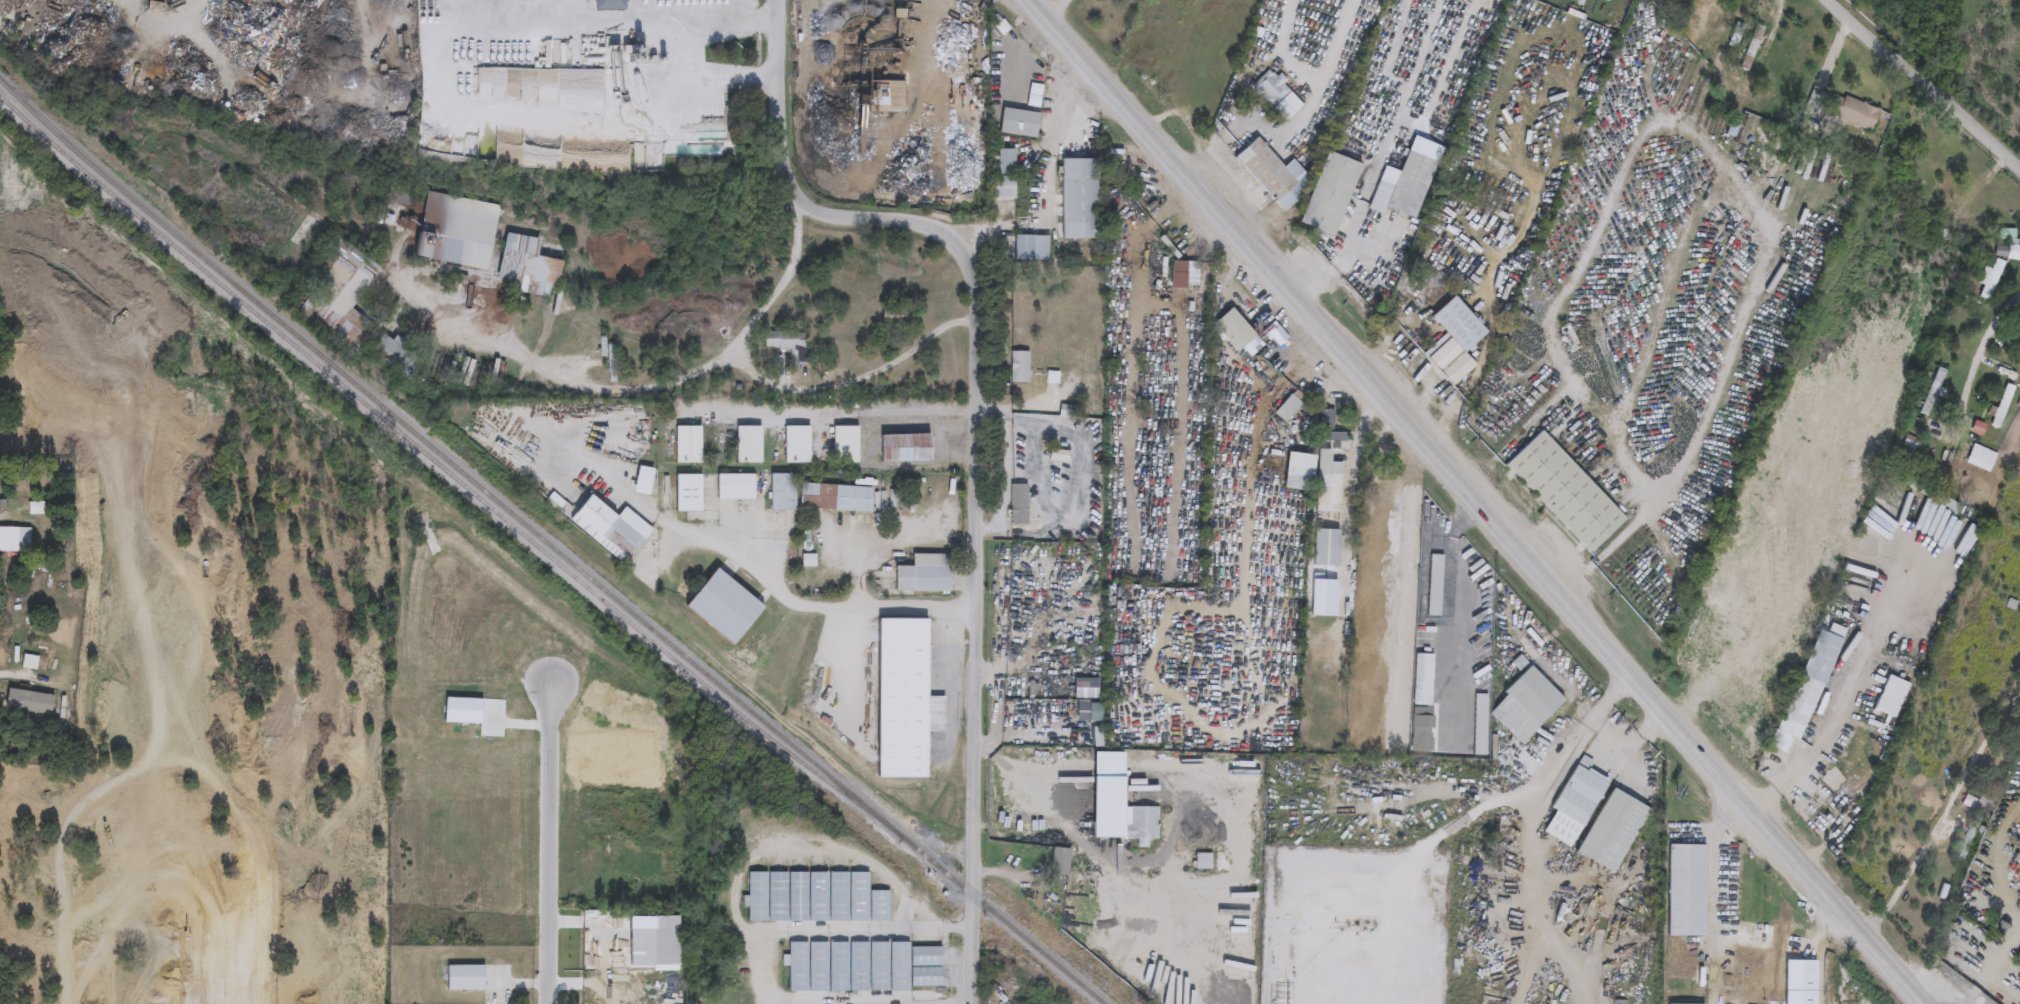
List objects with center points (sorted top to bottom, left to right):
road: (296, 1)
building: (608, 5)
road: (1055, 8)
road: (191, 38)
building: (1754, 41)
road: (1332, 44)
road: (1283, 49)
road: (690, 50)
road: (1830, 62)
road: (1923, 79)
road: (450, 85)
building: (998, 88)
building: (1275, 96)
building: (894, 98)
building: (1853, 113)
road: (1257, 123)
building: (1018, 124)
building: (1006, 161)
road: (1618, 171)
building: (1273, 175)
road: (1052, 180)
building: (1410, 185)
building: (1002, 188)
building: (1329, 194)
building: (1078, 199)
building: (2017, 220)
building: (449, 230)
building: (1031, 248)
building: (525, 267)
building: (1992, 279)
building: (338, 303)
building: (1233, 330)
building: (1452, 334)
building: (789, 345)
building: (388, 347)
building: (612, 359)
road: (1979, 364)
building: (1019, 368)
road: (557, 376)
road: (772, 382)
building: (2002, 406)
road: (867, 407)
building: (1287, 408)
building: (1068, 412)
building: (1329, 429)
road: (976, 435)
road: (1516, 436)
building: (686, 445)
building: (747, 445)
building: (795, 445)
building: (844, 445)
building: (904, 448)
railway: (424, 453)
building: (1298, 470)
building: (642, 480)
building: (1327, 482)
building: (734, 487)
building: (781, 491)
building: (1564, 491)
building: (687, 493)
building: (834, 497)
road: (1479, 500)
building: (1018, 505)
road: (5, 517)
building: (609, 528)
building: (14, 539)
railway: (550, 544)
building: (1325, 547)
road: (763, 570)
building: (923, 574)
building: (1434, 585)
building: (722, 606)
road: (949, 670)
road: (20, 676)
building: (1807, 687)
building: (1533, 696)
building: (1891, 696)
building: (903, 699)
building: (1422, 703)
road: (1833, 710)
building: (1479, 725)
road: (1630, 749)
building: (1058, 778)
road: (1542, 787)
building: (1841, 788)
building: (1574, 805)
building: (1142, 823)
road: (1709, 825)
building: (1612, 830)
building: (1970, 837)
road: (794, 842)
road: (552, 844)
building: (1496, 846)
building: (1060, 861)
building: (1203, 861)
road: (1909, 876)
building: (813, 897)
road: (1723, 899)
road: (65, 902)
building: (1689, 911)
road: (843, 929)
building: (653, 943)
road: (1796, 947)
road: (2001, 952)
building: (1736, 964)
building: (806, 966)
building: (882, 966)
building: (1687, 974)
road: (865, 1000)

